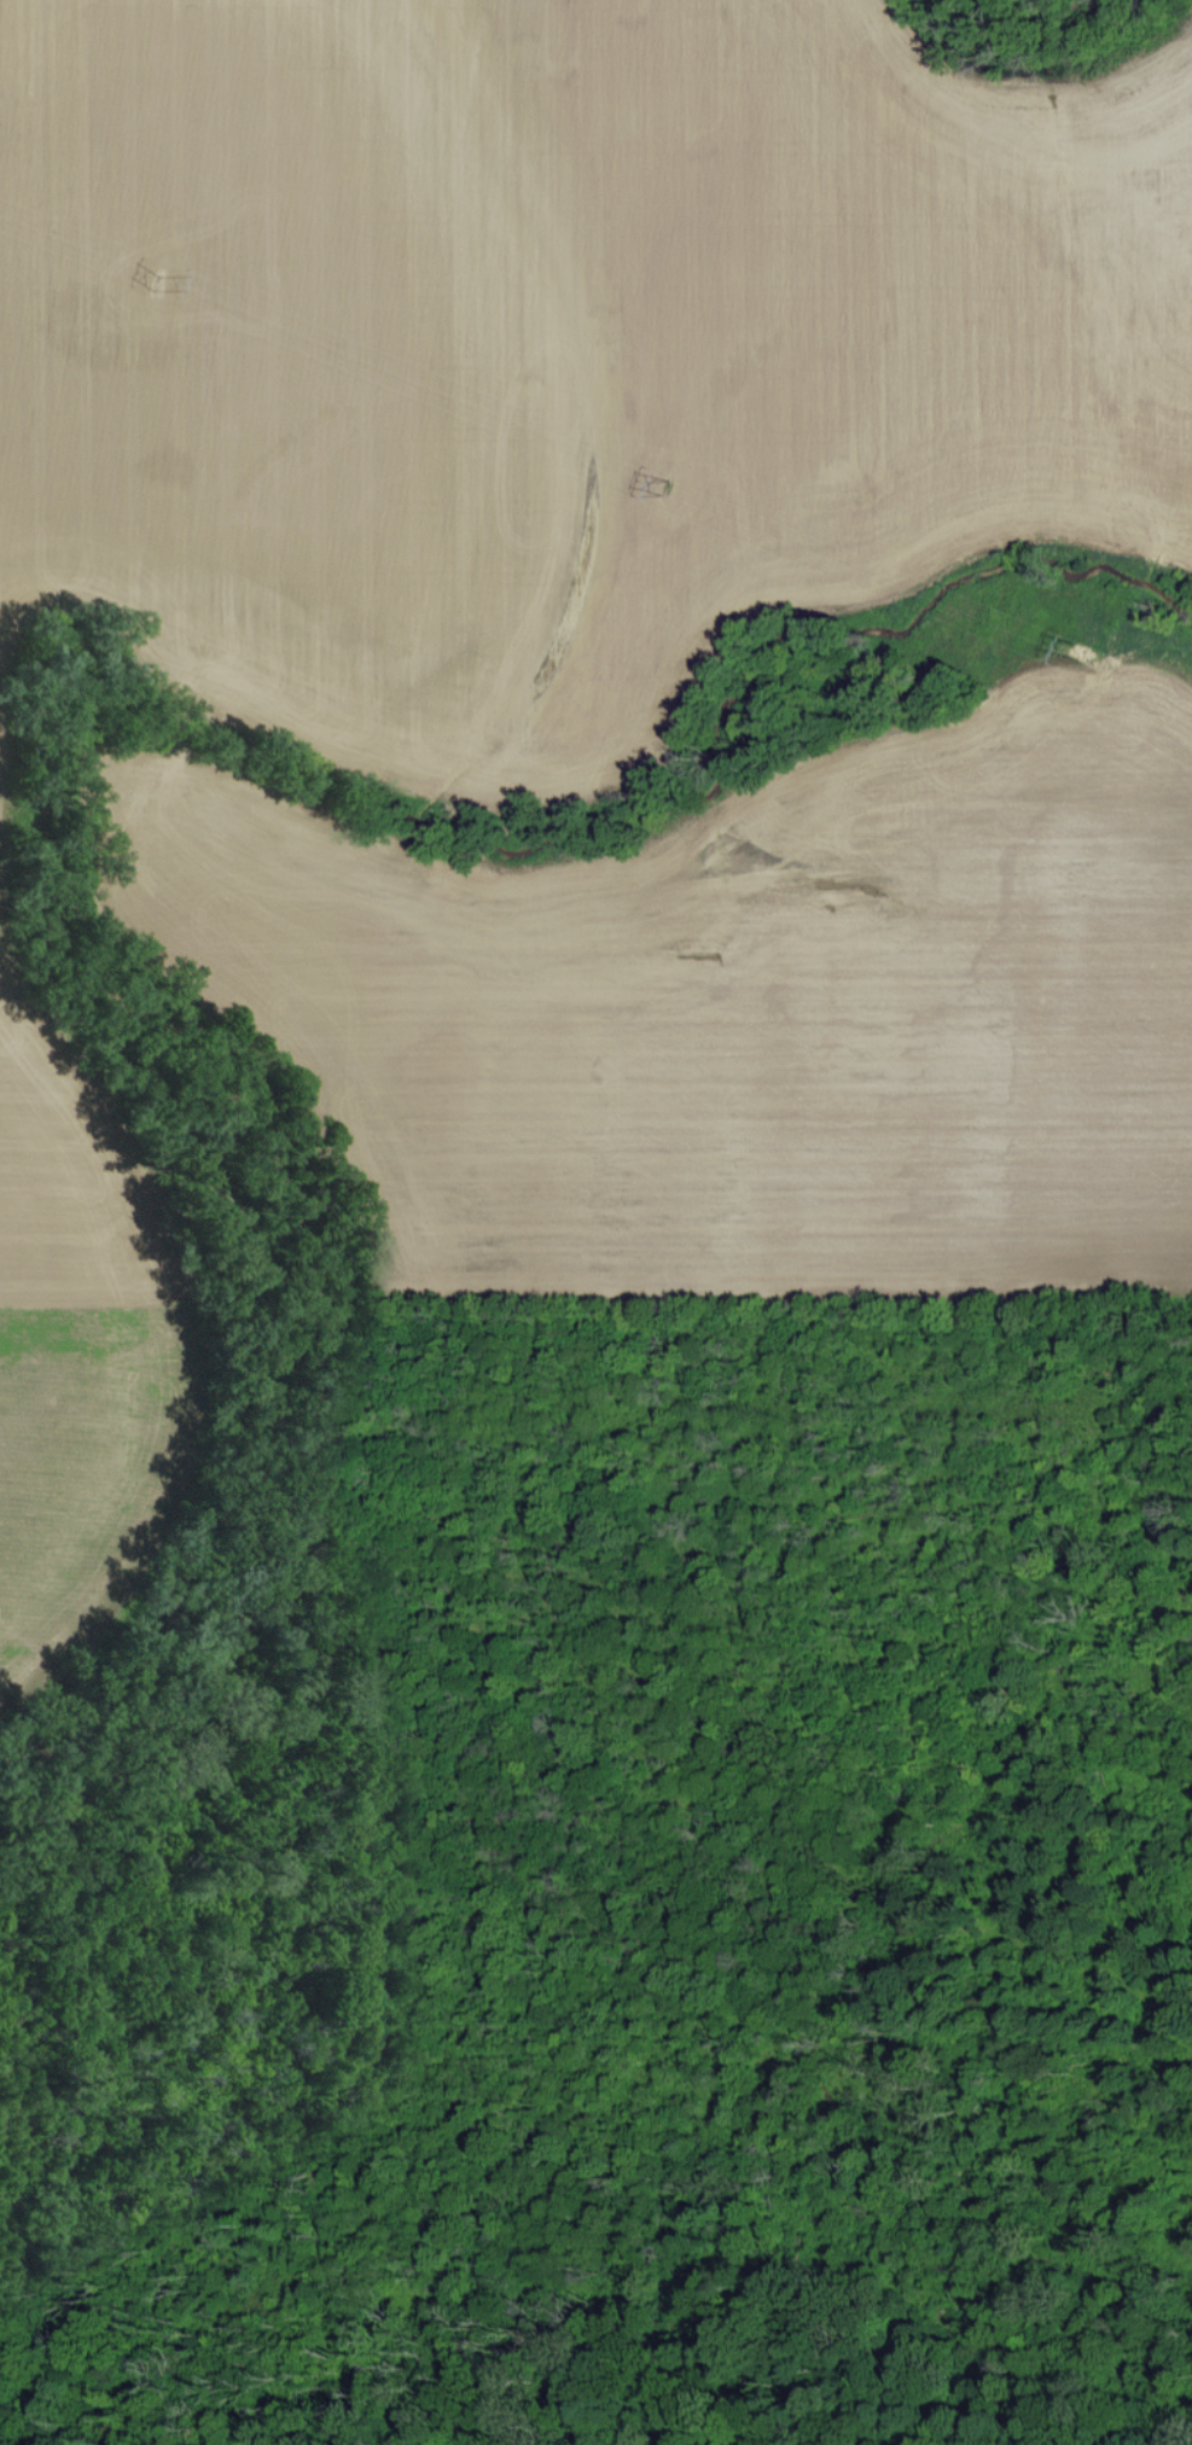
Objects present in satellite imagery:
power tower: (157, 283)
power tower: (669, 487)
power tower: (1072, 647)

